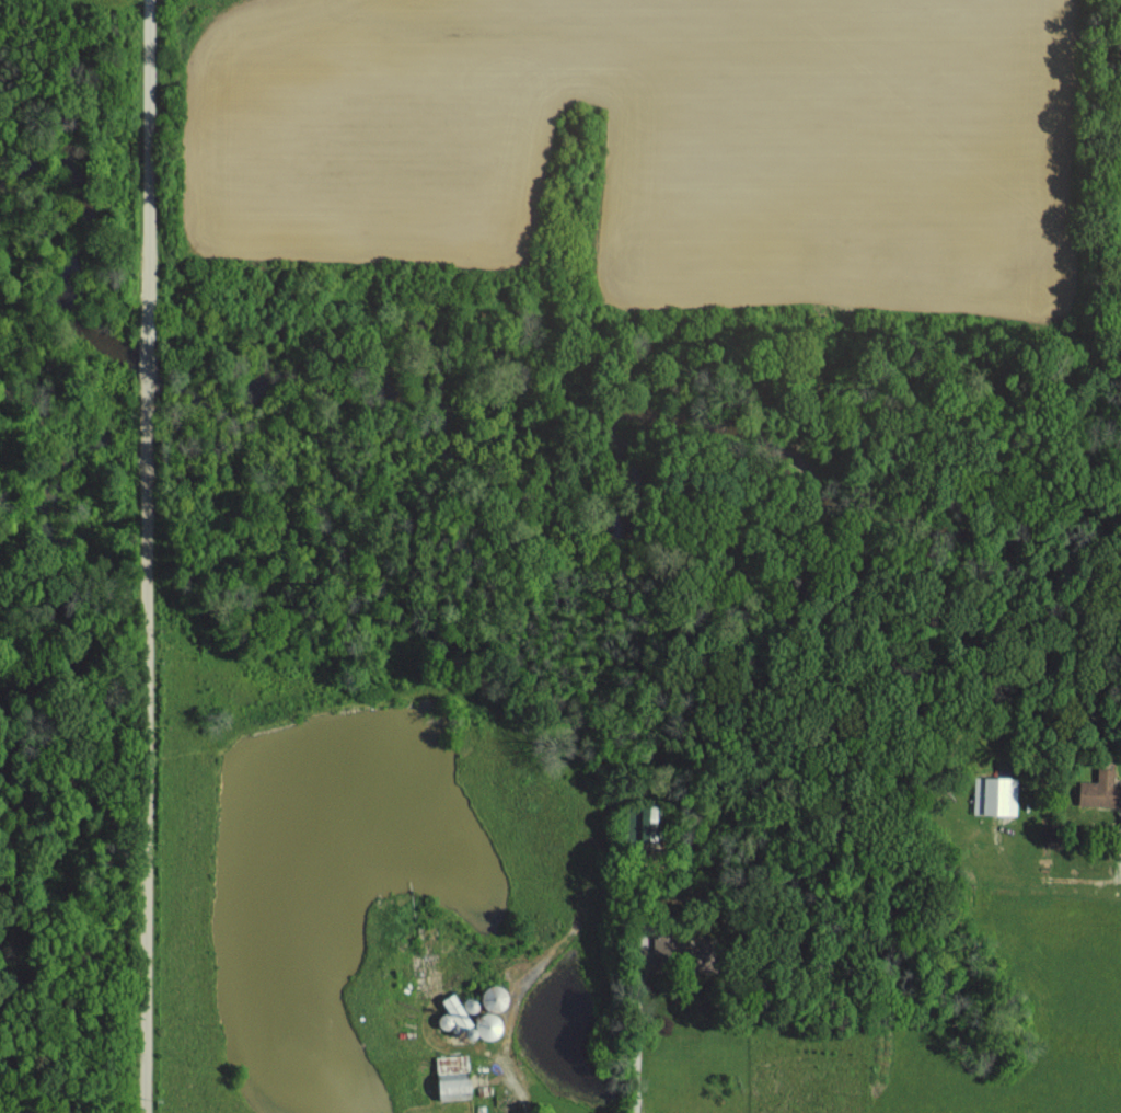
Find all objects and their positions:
road: (155, 555)
building: (1100, 788)
building: (1001, 794)
building: (454, 1077)

